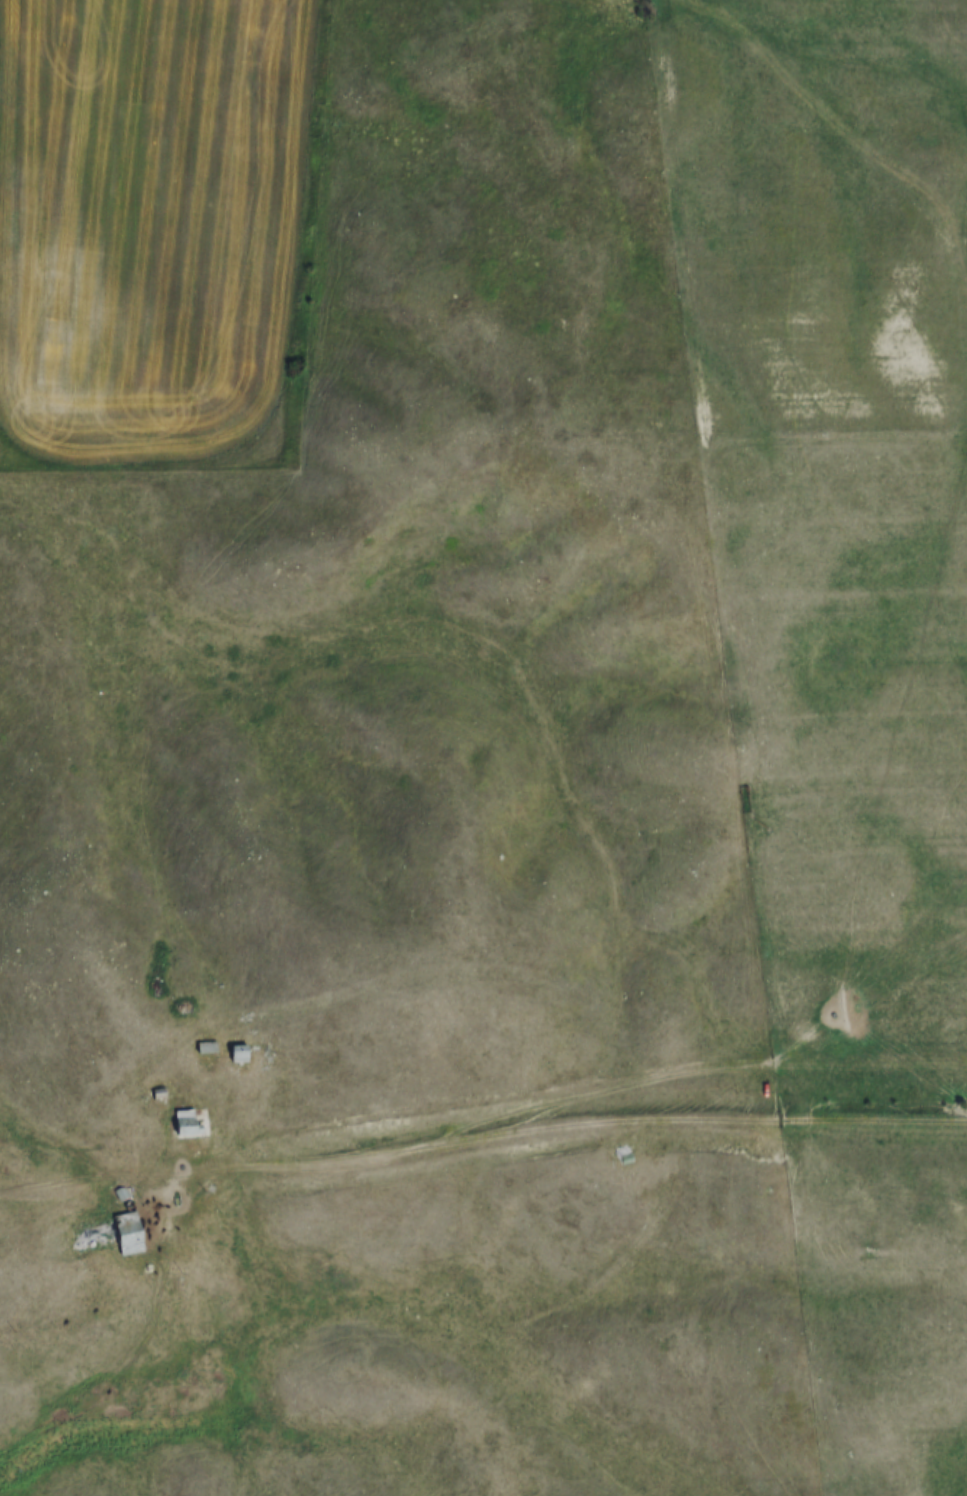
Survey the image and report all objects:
building: (207, 1048)
building: (239, 1054)
road: (571, 1121)
building: (622, 1148)
road: (88, 1176)
building: (109, 1234)

